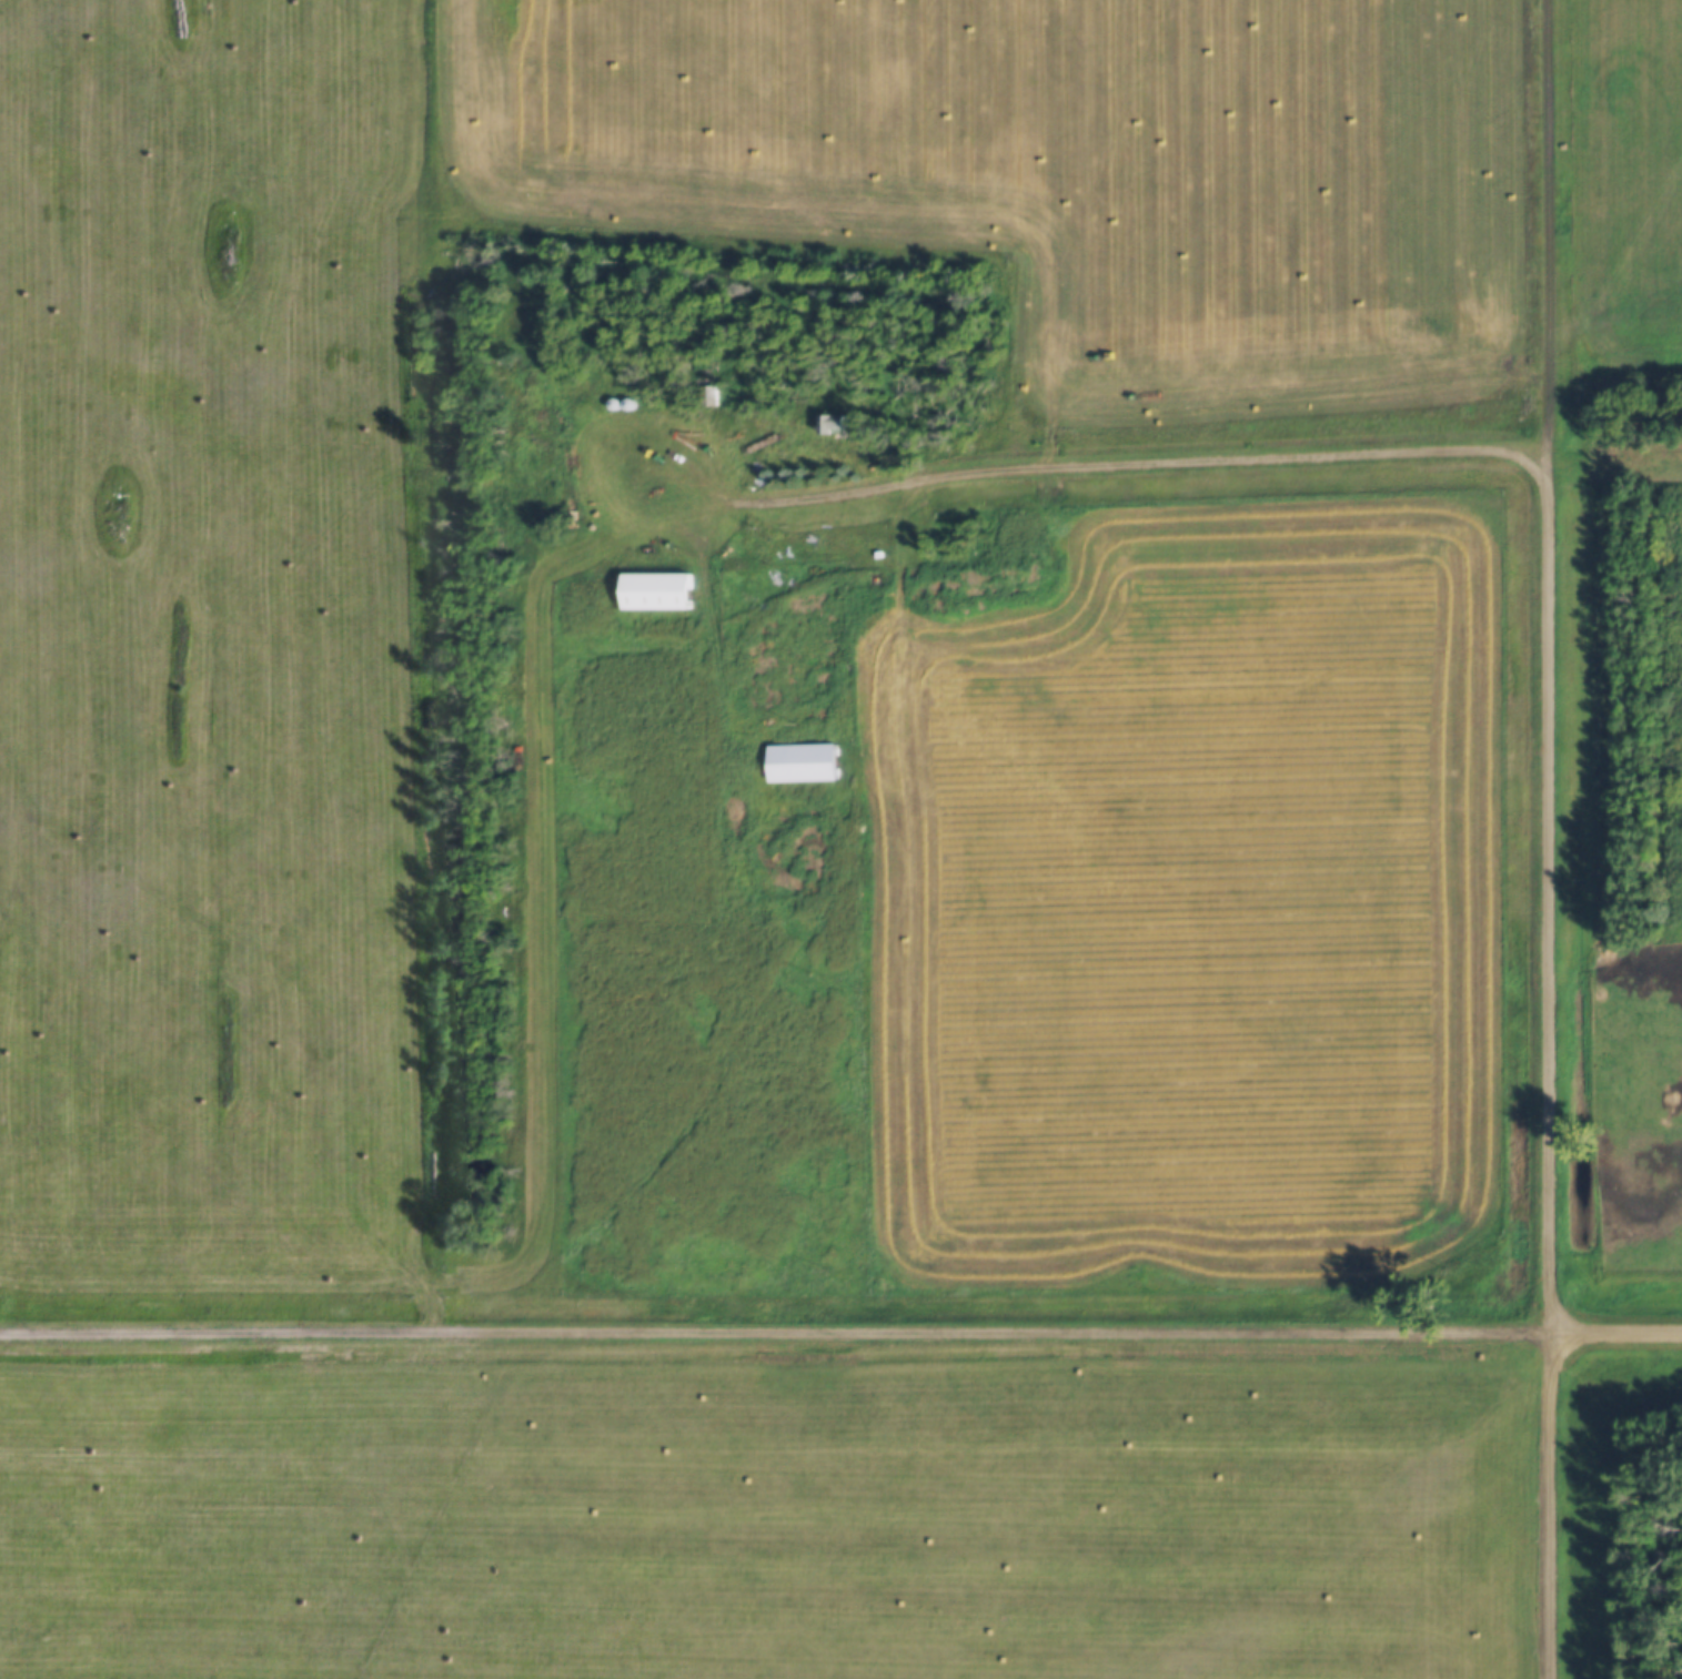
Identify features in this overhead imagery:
building: (93, 60)
road: (1547, 240)
building: (833, 424)
road: (1141, 458)
building: (657, 590)
building: (803, 762)
road: (1548, 903)
building: (119, 962)
road: (774, 1325)
road: (1615, 1327)
road: (1551, 1503)

